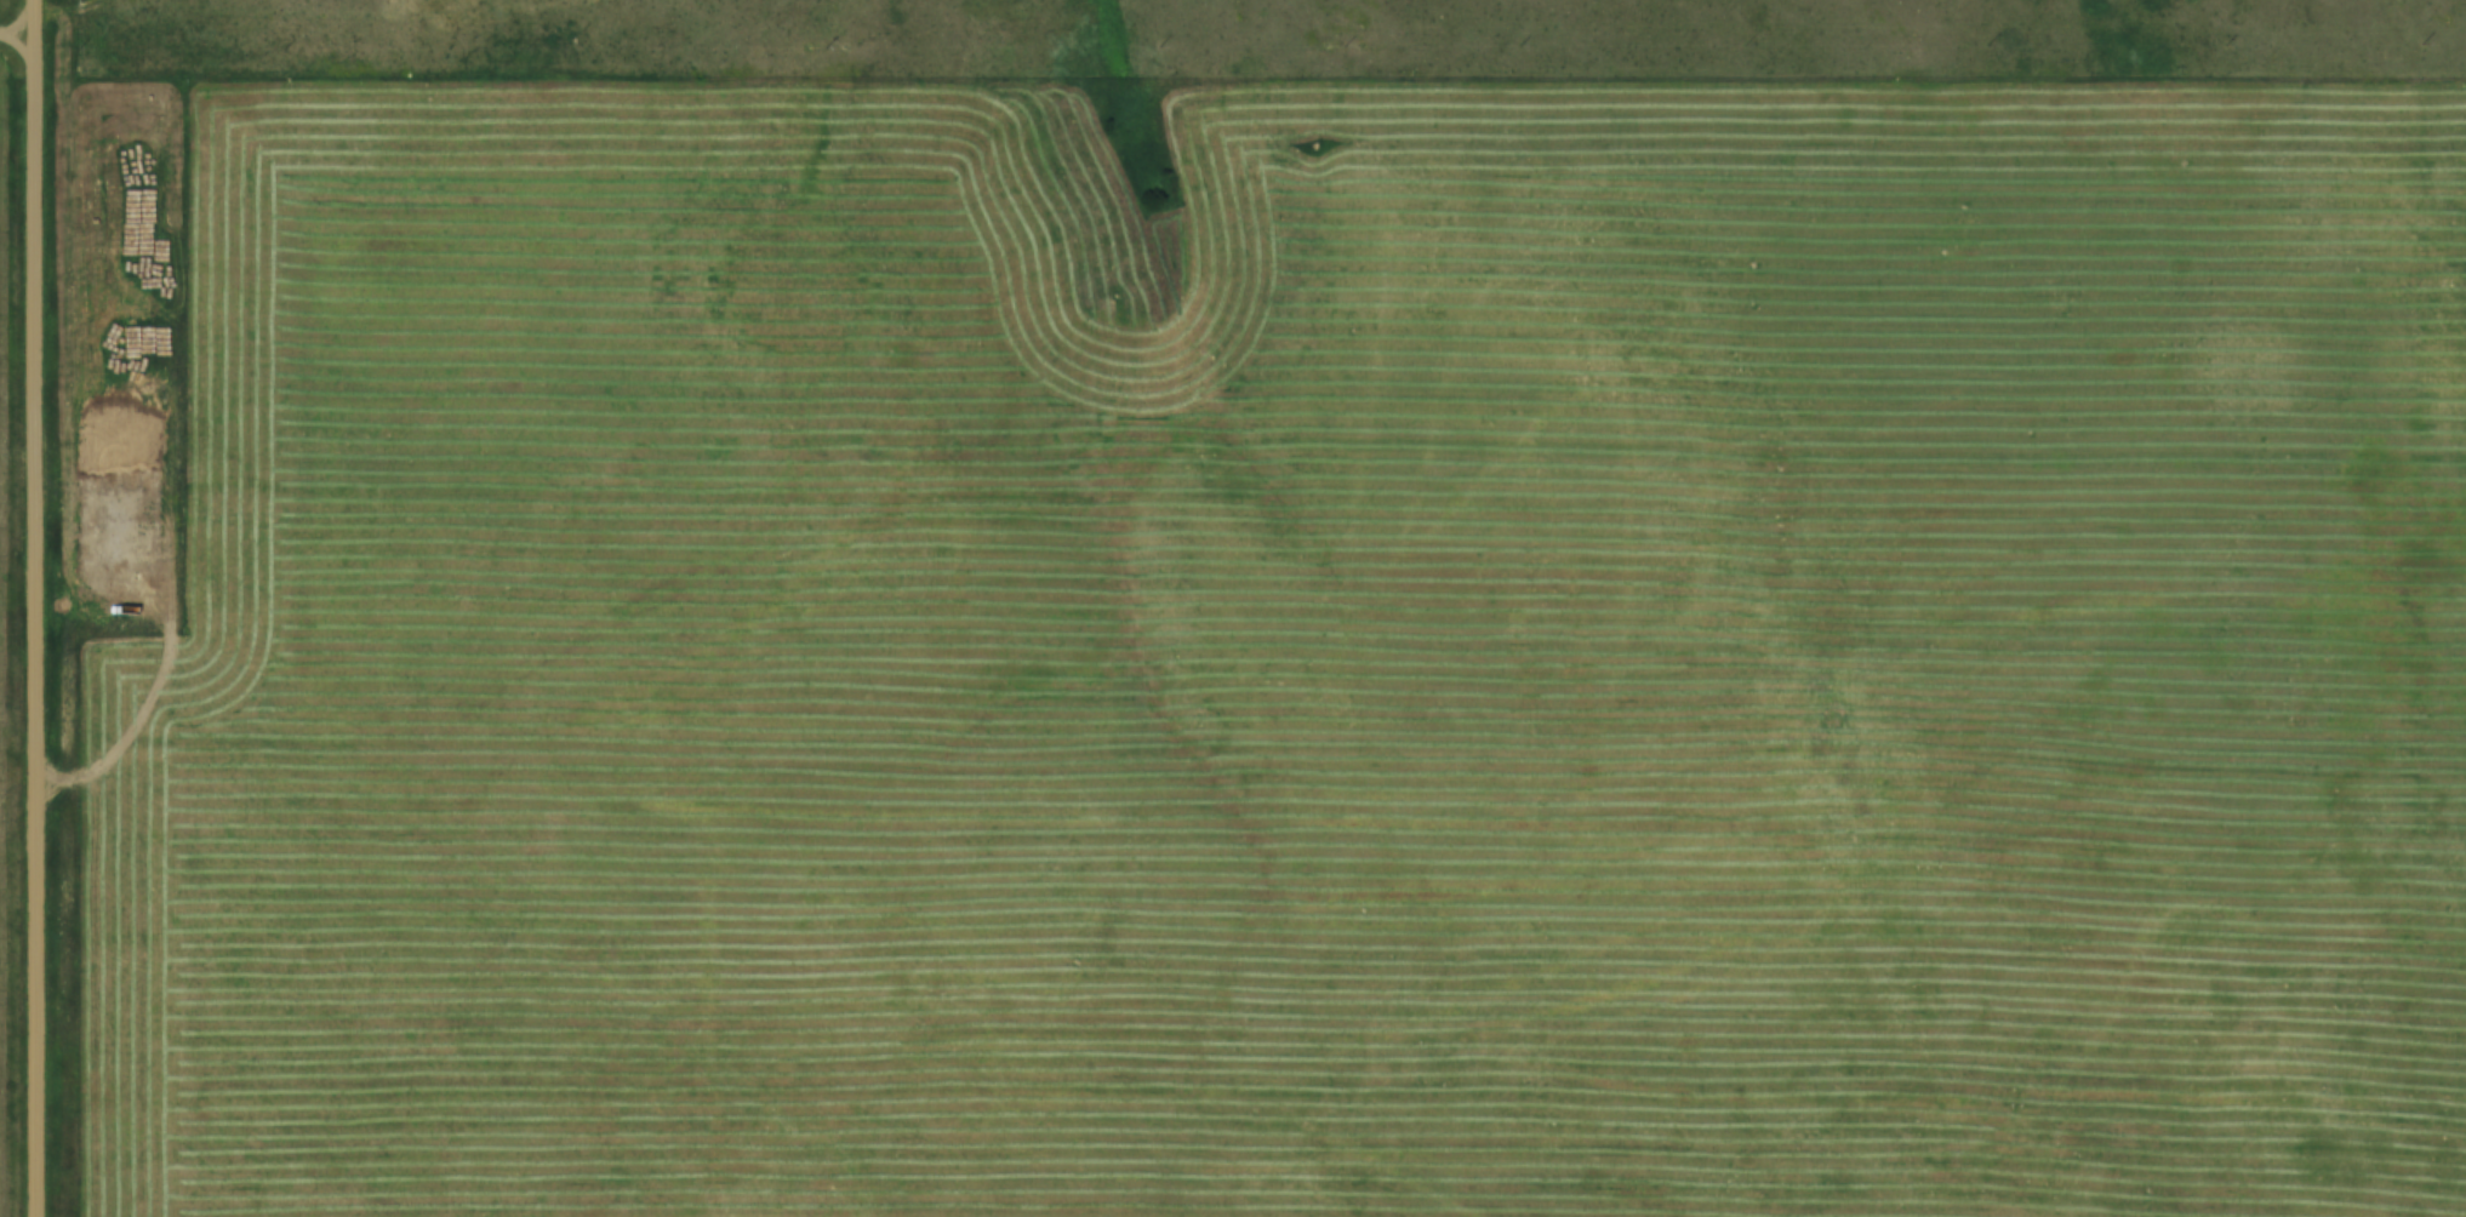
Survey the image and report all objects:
road: (19, 32)
road: (41, 607)
road: (21, 773)

